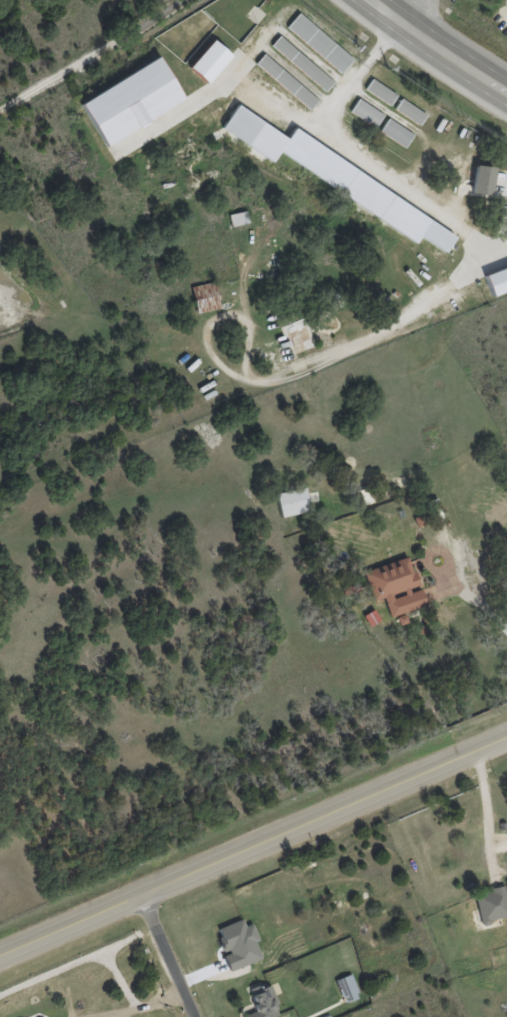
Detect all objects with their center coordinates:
road: (410, 10)
building: (319, 43)
road: (438, 48)
road: (93, 57)
building: (209, 61)
building: (301, 63)
building: (286, 81)
building: (380, 92)
building: (131, 101)
building: (409, 111)
building: (366, 113)
building: (396, 132)
road: (358, 155)
building: (337, 177)
building: (482, 180)
building: (238, 218)
building: (496, 278)
building: (204, 297)
road: (300, 360)
building: (292, 501)
building: (394, 586)
road: (482, 600)
road: (488, 807)
road: (253, 844)
building: (491, 907)
building: (240, 946)
road: (168, 954)
building: (346, 988)
building: (265, 1001)
road: (138, 1004)
building: (38, 1016)

